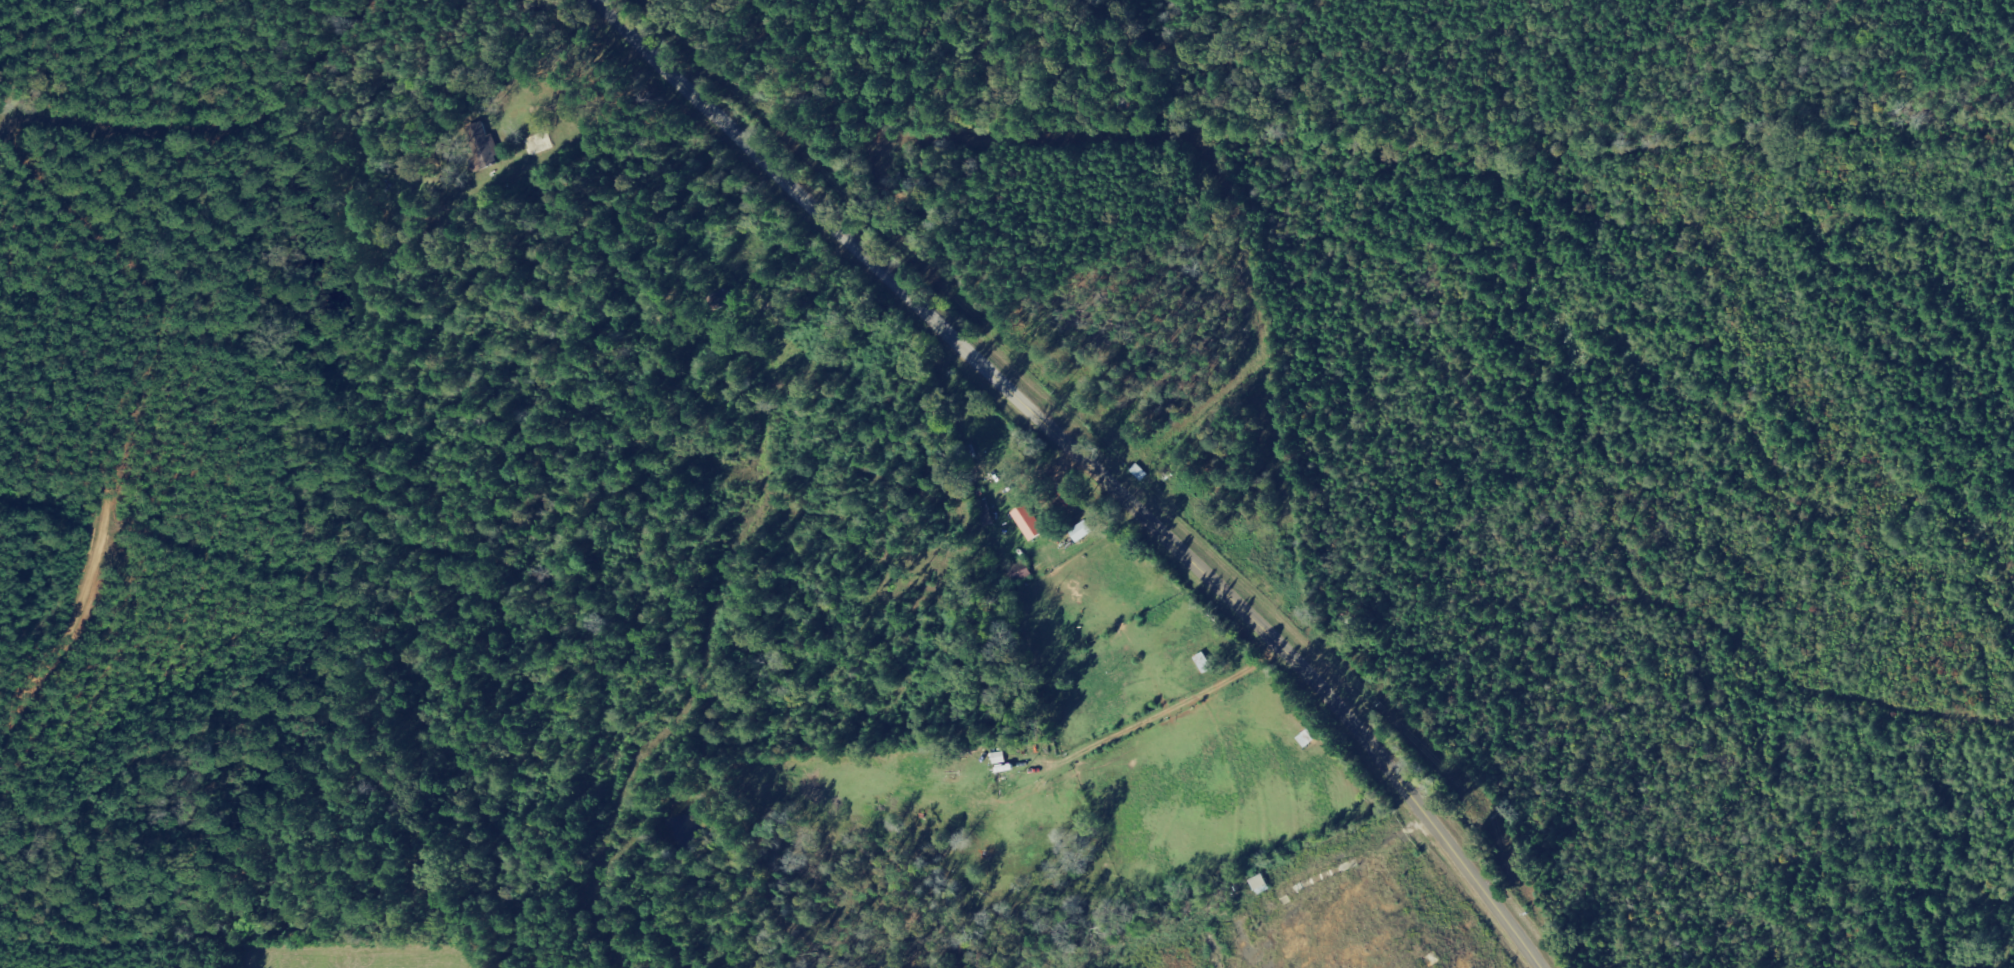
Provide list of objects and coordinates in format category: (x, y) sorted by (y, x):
road: (177, 108)
building: (488, 143)
road: (1087, 463)
building: (1031, 523)
building: (1084, 532)
building: (1024, 573)

